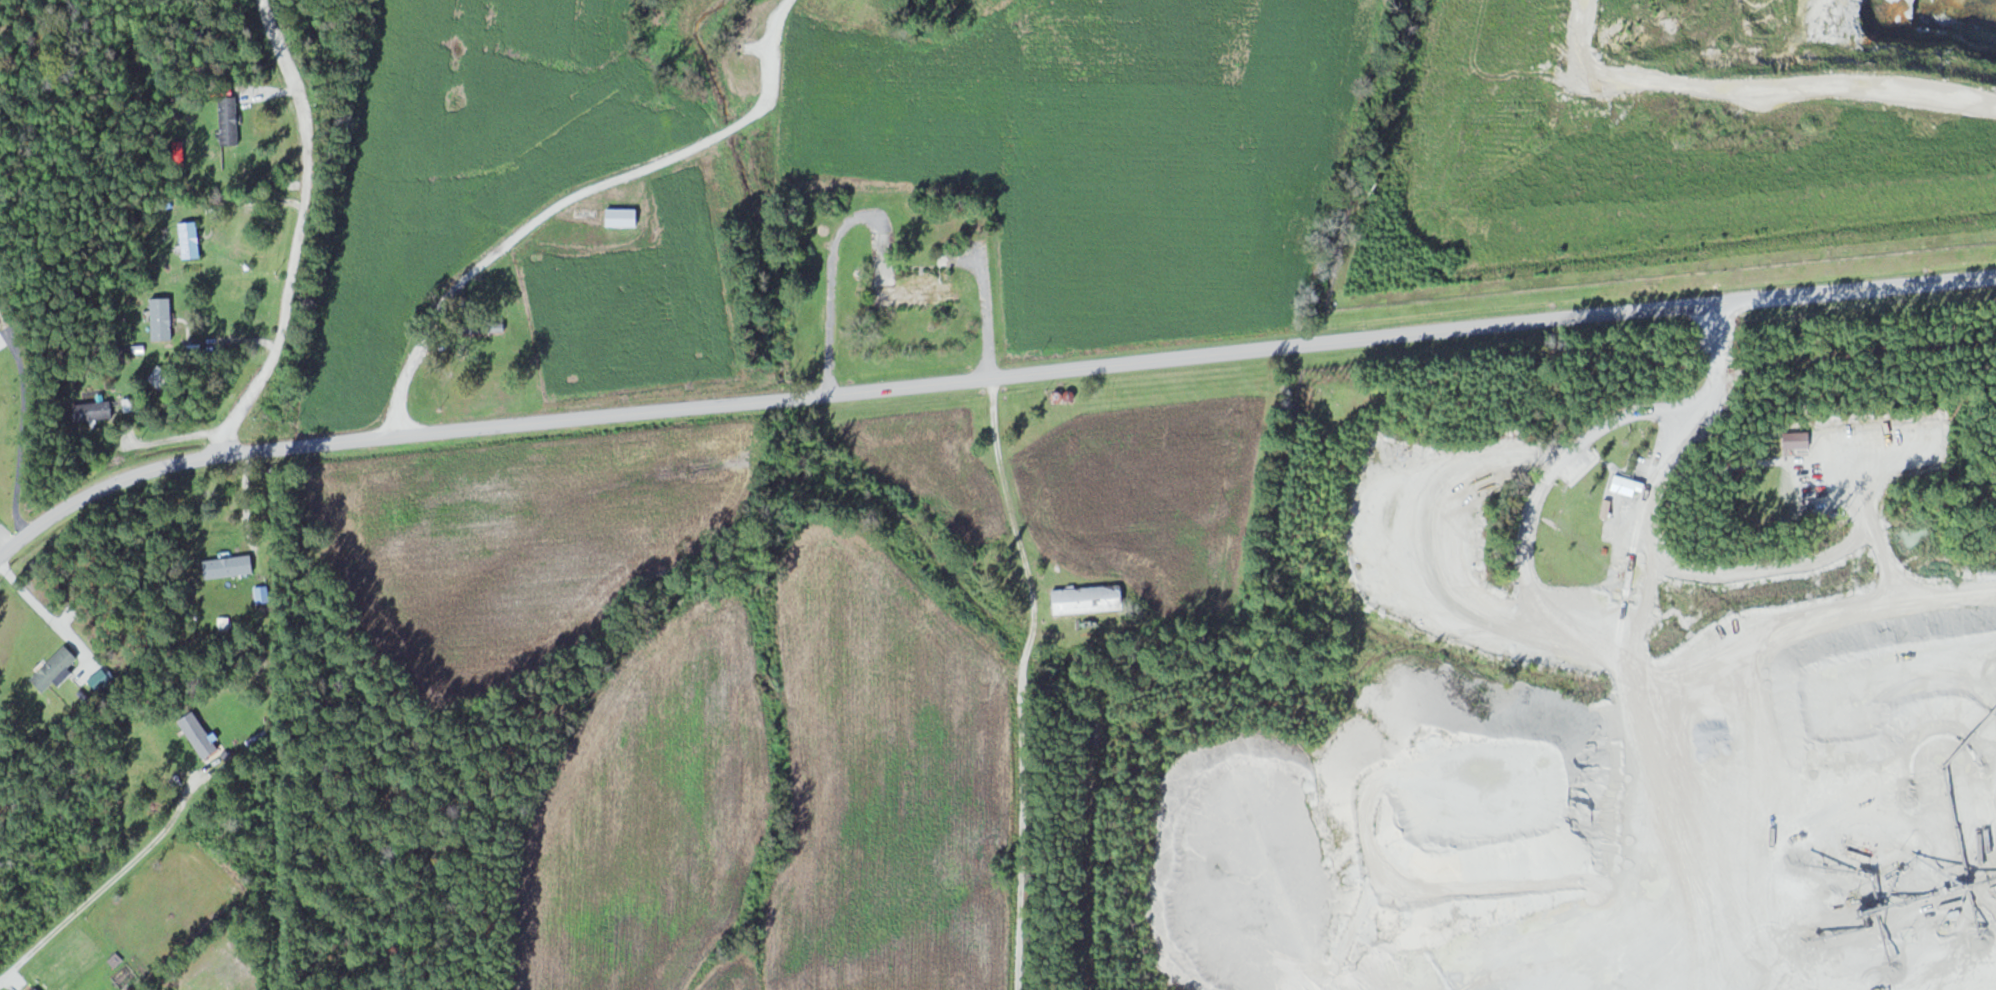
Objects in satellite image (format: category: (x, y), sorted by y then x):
building: (230, 118)
quarry: (1729, 132)
building: (622, 217)
road: (301, 232)
building: (191, 240)
building: (919, 291)
building: (163, 318)
road: (985, 376)
building: (159, 377)
building: (93, 410)
building: (1799, 439)
crop: (536, 537)
building: (230, 565)
building: (1089, 598)
building: (55, 667)
building: (200, 734)
quarry: (1616, 767)
crop: (787, 786)
road: (104, 882)
building: (37, 988)

